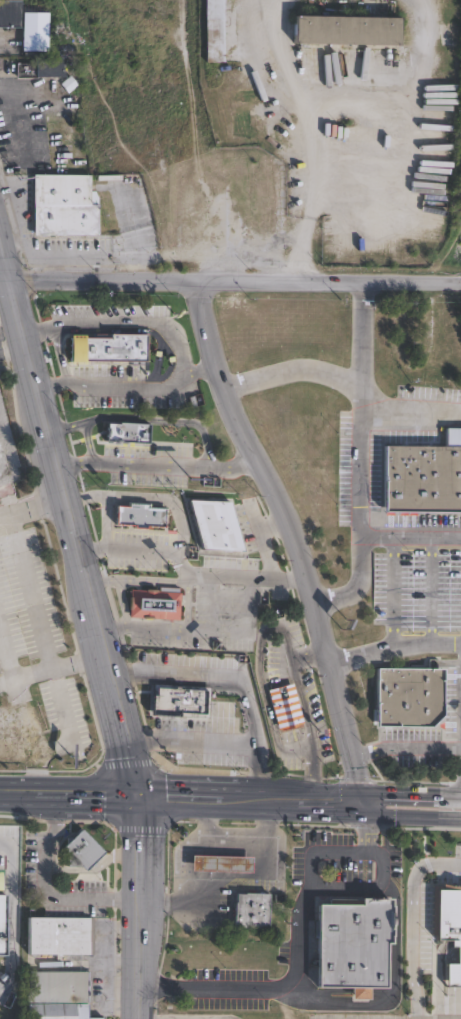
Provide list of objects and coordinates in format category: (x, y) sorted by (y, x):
building: (11, 14)
building: (344, 27)
building: (208, 30)
building: (43, 69)
road: (317, 160)
building: (66, 206)
road: (5, 281)
road: (236, 281)
building: (106, 345)
road: (184, 349)
road: (64, 354)
road: (291, 365)
road: (199, 369)
road: (361, 409)
road: (406, 410)
road: (146, 418)
building: (126, 431)
road: (87, 440)
road: (58, 455)
building: (6, 457)
road: (159, 465)
building: (423, 474)
road: (34, 508)
building: (139, 514)
road: (178, 519)
road: (104, 521)
building: (213, 524)
road: (364, 535)
road: (296, 537)
road: (248, 576)
road: (103, 578)
road: (153, 580)
road: (26, 583)
road: (430, 588)
road: (393, 590)
road: (187, 602)
road: (214, 602)
road: (121, 603)
building: (152, 603)
road: (202, 629)
road: (395, 644)
road: (1, 645)
road: (55, 667)
road: (209, 679)
road: (261, 685)
building: (407, 695)
building: (179, 699)
building: (283, 706)
road: (303, 707)
road: (33, 715)
building: (10, 734)
road: (129, 735)
road: (223, 739)
road: (407, 749)
road: (40, 755)
road: (7, 794)
road: (75, 796)
traffic signals: (138, 798)
road: (197, 800)
road: (311, 804)
traffic signals: (365, 806)
road: (401, 807)
road: (449, 808)
building: (82, 847)
building: (219, 862)
gas station: (219, 862)
road: (139, 882)
road: (46, 886)
road: (364, 888)
building: (249, 907)
road: (17, 908)
building: (2, 921)
road: (410, 921)
building: (59, 935)
road: (296, 941)
building: (352, 941)
road: (68, 961)
road: (104, 968)
road: (137, 992)
building: (56, 994)

